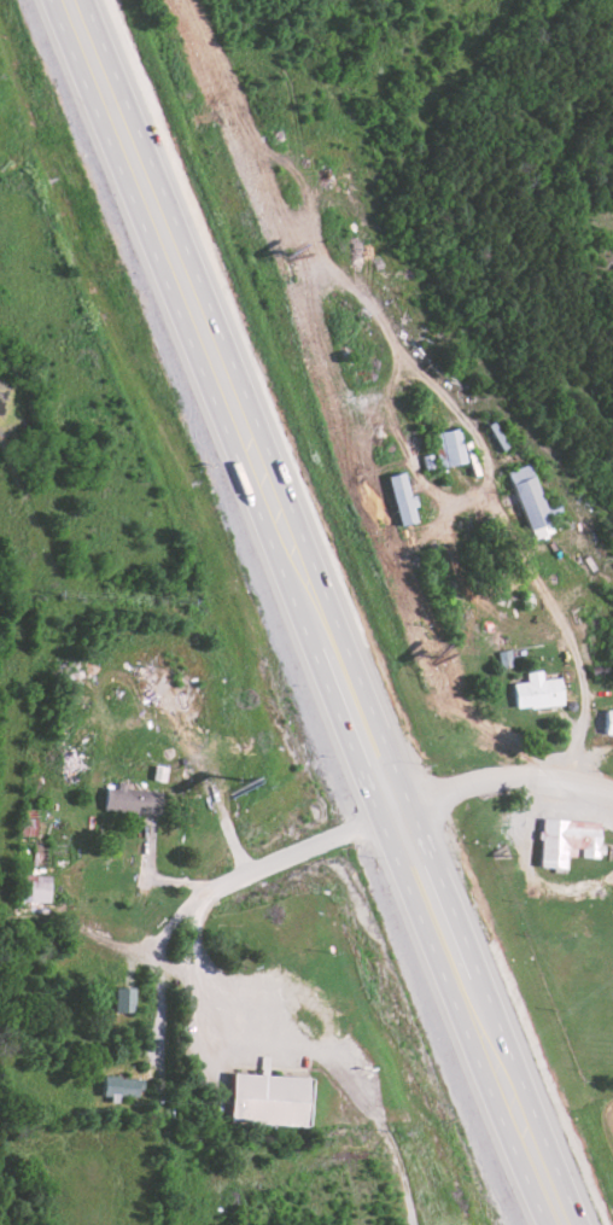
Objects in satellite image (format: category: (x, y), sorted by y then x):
building: (436, 445)
building: (450, 447)
building: (399, 500)
road: (294, 612)
road: (329, 612)
road: (560, 635)
building: (536, 692)
building: (607, 723)
road: (492, 781)
building: (130, 800)
building: (565, 841)
road: (154, 879)
building: (33, 888)
road: (192, 912)
building: (122, 1001)
road: (156, 1015)
road: (320, 1052)
building: (121, 1087)
building: (265, 1099)

